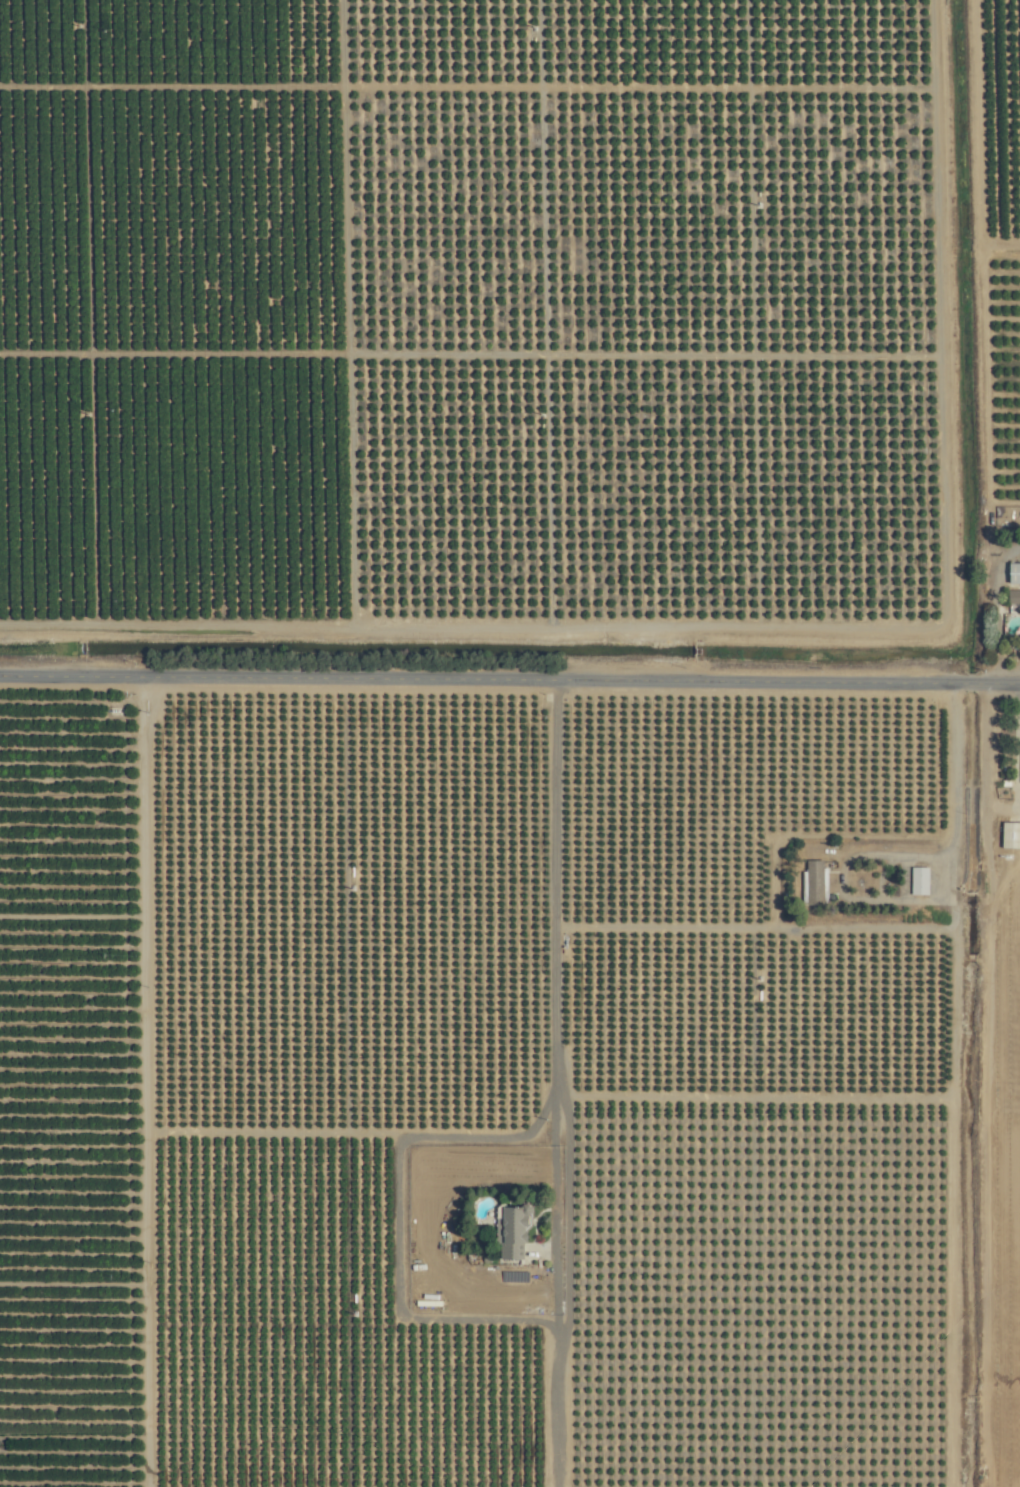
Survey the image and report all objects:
road: (1001, 246)
road: (983, 281)
building: (1012, 572)
road: (997, 608)
road: (478, 678)
road: (967, 682)
road: (999, 683)
crop: (510, 743)
building: (1009, 835)
road: (842, 879)
building: (917, 880)
building: (813, 882)
road: (875, 927)
building: (509, 1234)
road: (566, 1241)

